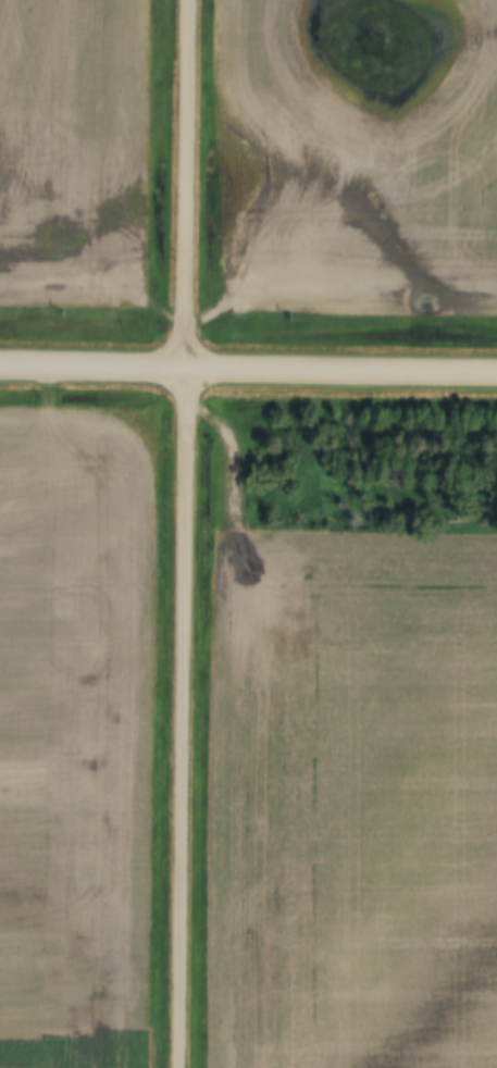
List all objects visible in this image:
road: (248, 369)
road: (181, 533)

